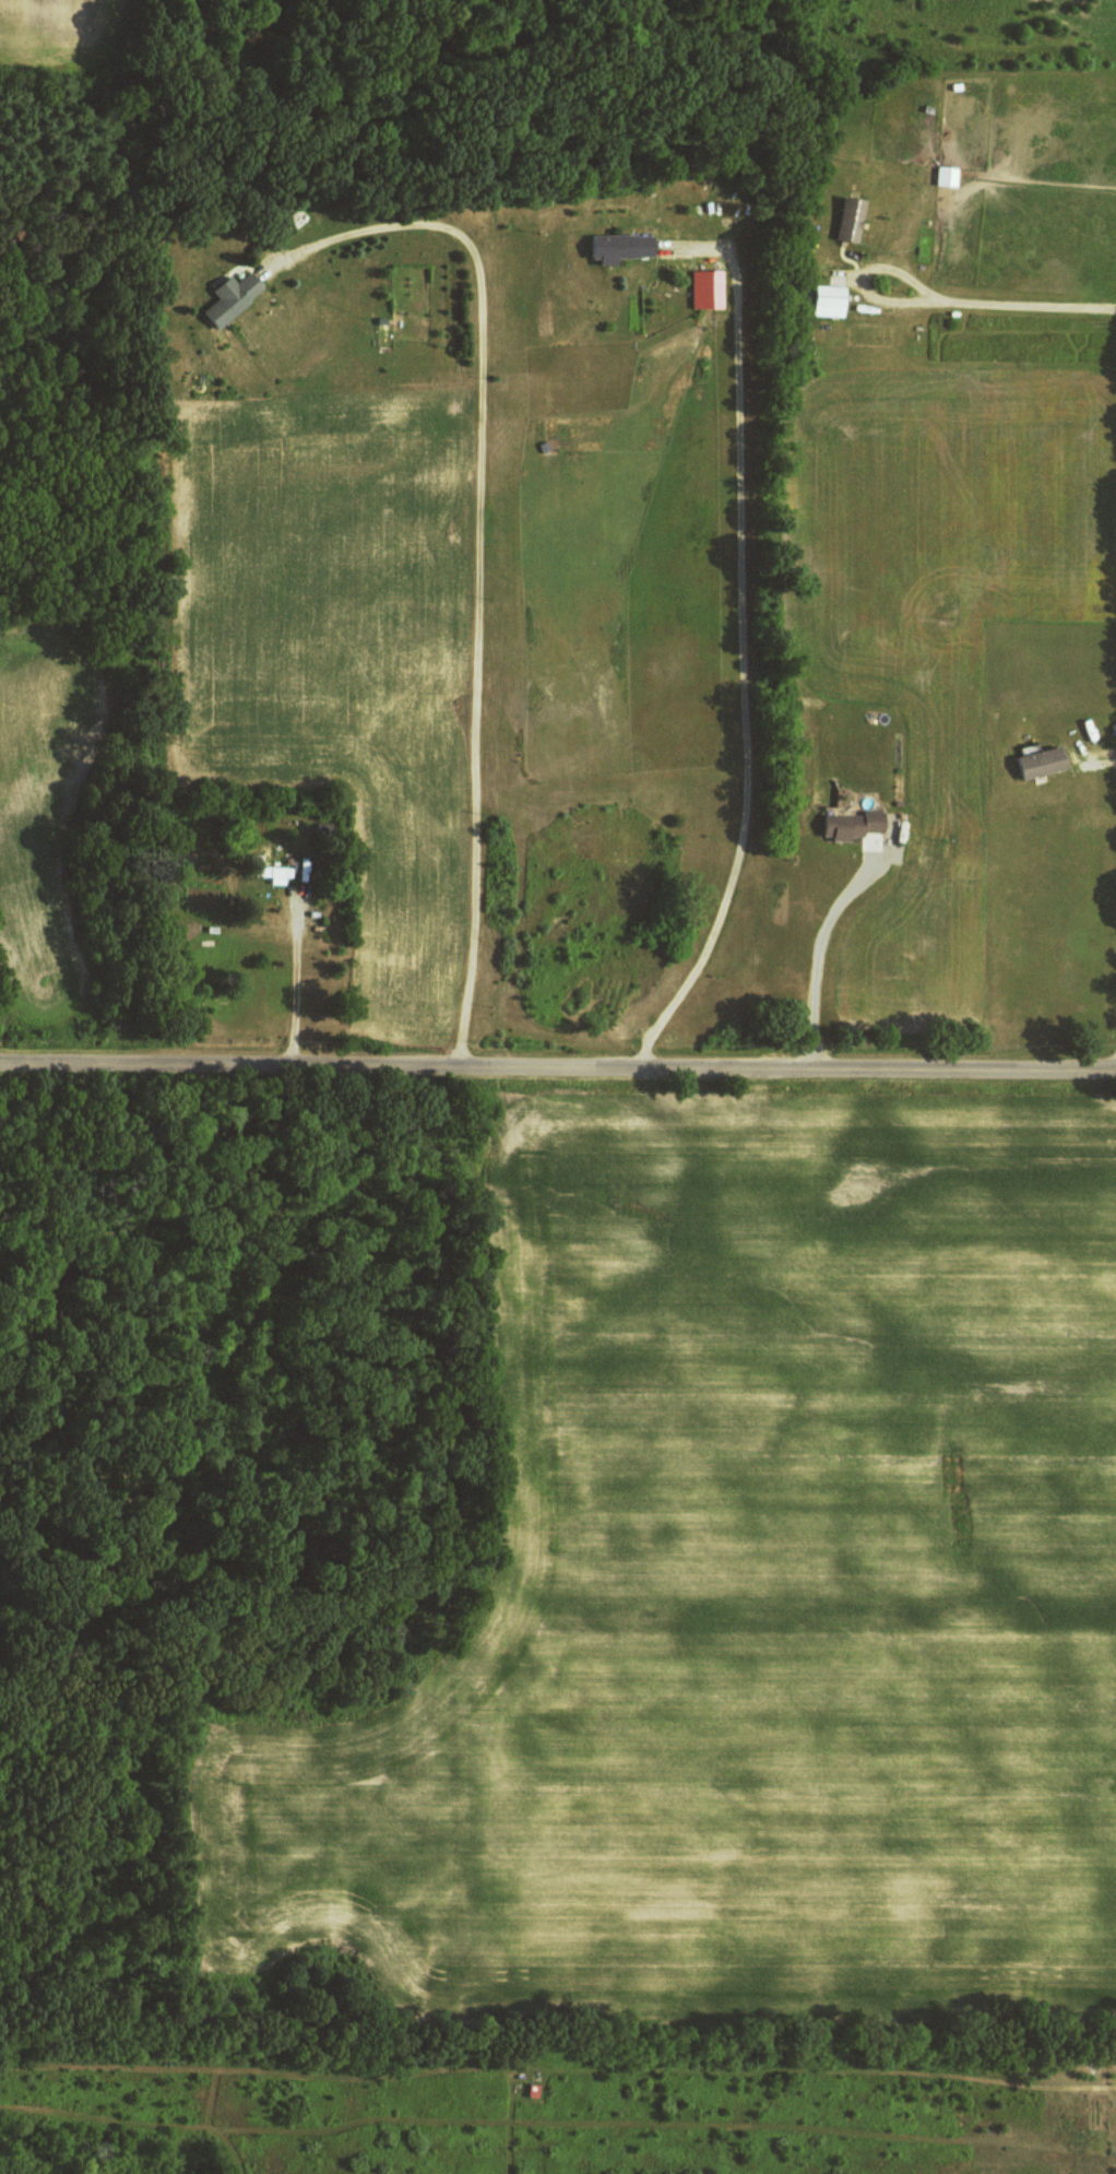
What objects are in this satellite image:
building: (949, 175)
building: (852, 217)
building: (624, 247)
building: (709, 288)
building: (236, 296)
building: (832, 300)
building: (1043, 763)
building: (854, 825)
building: (282, 874)
road: (557, 1073)

